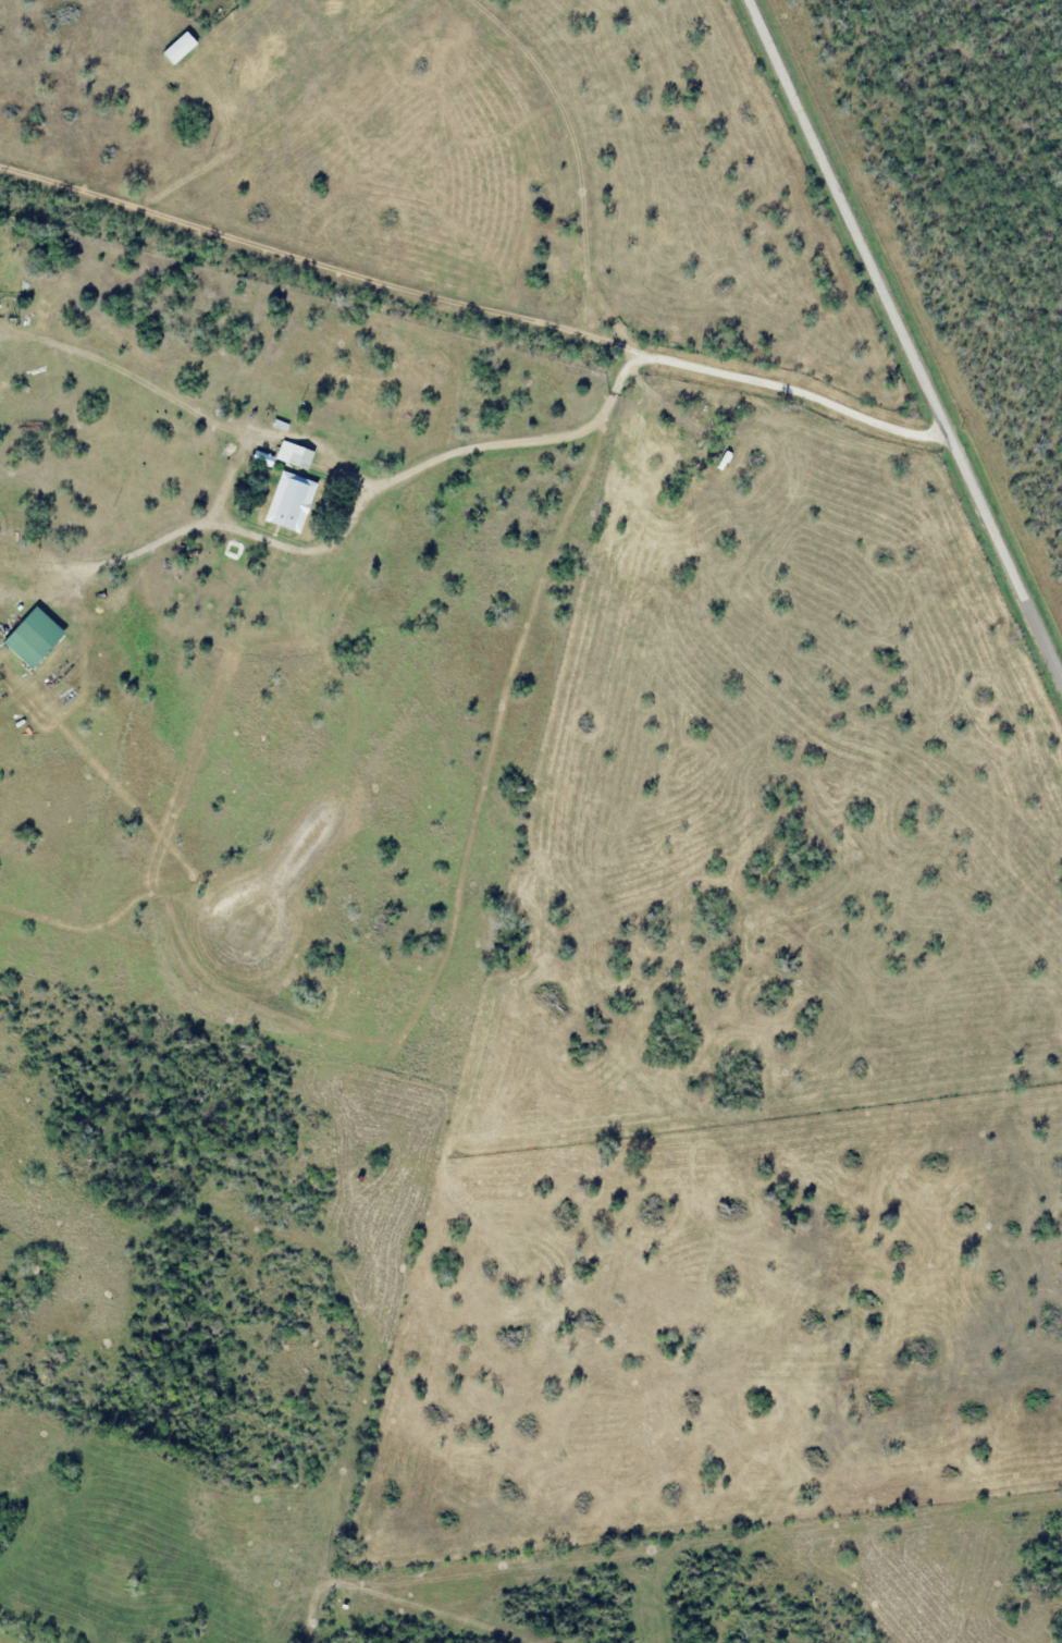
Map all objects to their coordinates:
building: (208, 20)
building: (178, 49)
road: (473, 298)
road: (909, 336)
building: (279, 404)
building: (250, 415)
building: (281, 425)
building: (325, 453)
building: (294, 455)
building: (307, 498)

